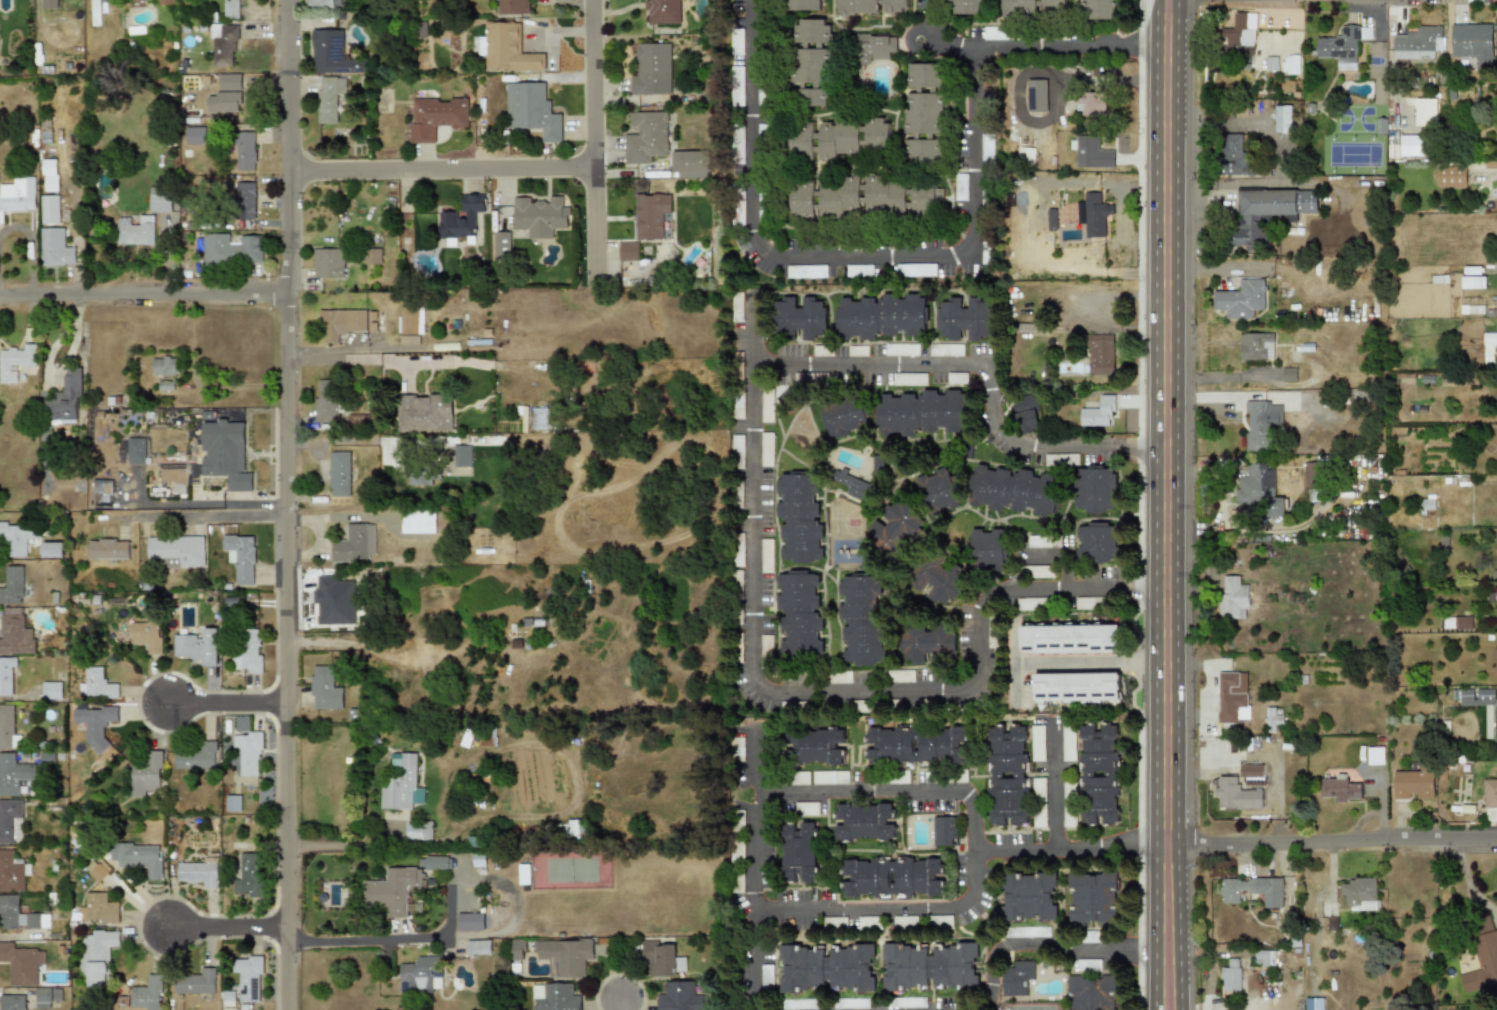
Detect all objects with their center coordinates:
building: (153, 1)
building: (322, 3)
building: (48, 4)
building: (1054, 4)
building: (803, 5)
building: (513, 7)
building: (871, 7)
building: (965, 7)
building: (1020, 8)
building: (230, 9)
building: (1098, 9)
building: (662, 11)
building: (95, 12)
building: (813, 32)
building: (1365, 32)
building: (996, 33)
building: (1240, 34)
building: (738, 42)
building: (1417, 43)
road: (1030, 44)
building: (1472, 44)
building: (222, 45)
building: (506, 48)
building: (874, 48)
building: (1339, 48)
building: (332, 53)
building: (1271, 63)
building: (1289, 64)
building: (810, 66)
building: (651, 69)
building: (924, 77)
road: (588, 86)
building: (738, 86)
building: (1038, 95)
building: (763, 96)
building: (809, 97)
building: (225, 98)
building: (328, 98)
building: (1092, 104)
building: (531, 109)
building: (435, 117)
building: (1282, 118)
building: (924, 129)
building: (194, 135)
building: (877, 135)
building: (646, 137)
building: (763, 138)
building: (824, 140)
building: (738, 143)
building: (1410, 145)
building: (986, 146)
building: (245, 151)
building: (1092, 154)
building: (1026, 156)
building: (1233, 156)
building: (690, 164)
building: (1482, 164)
building: (49, 175)
road: (435, 175)
building: (1450, 175)
building: (17, 196)
building: (886, 197)
building: (840, 198)
building: (160, 199)
building: (926, 199)
building: (245, 200)
building: (802, 200)
building: (1496, 203)
building: (738, 207)
building: (51, 210)
building: (1267, 214)
building: (650, 215)
building: (1094, 215)
building: (539, 216)
building: (461, 218)
building: (1051, 219)
building: (135, 231)
road: (589, 237)
building: (500, 244)
building: (55, 248)
building: (231, 249)
building: (628, 251)
building: (371, 256)
road: (836, 258)
building: (328, 262)
building: (862, 270)
building: (915, 270)
building: (806, 271)
building: (1472, 282)
building: (1241, 299)
road: (141, 303)
building: (1468, 310)
building: (882, 317)
building: (799, 319)
building: (962, 319)
building: (370, 320)
building: (341, 322)
building: (410, 325)
building: (1256, 346)
building: (1489, 346)
building: (901, 349)
building: (945, 350)
road: (330, 351)
building: (822, 351)
building: (857, 351)
building: (1099, 355)
building: (15, 360)
building: (164, 365)
road: (959, 367)
building: (1289, 374)
building: (810, 378)
building: (956, 378)
building: (909, 379)
building: (65, 399)
building: (326, 400)
building: (767, 404)
building: (424, 413)
building: (921, 413)
building: (1097, 413)
building: (1025, 414)
building: (539, 418)
building: (843, 418)
road: (351, 441)
road: (1138, 446)
building: (766, 449)
building: (137, 450)
building: (737, 452)
building: (224, 453)
building: (461, 455)
building: (1060, 460)
building: (338, 473)
building: (1309, 473)
building: (419, 474)
building: (852, 486)
building: (101, 490)
building: (1013, 490)
building: (1094, 490)
building: (1259, 490)
building: (938, 492)
road: (282, 505)
road: (1165, 505)
road: (209, 517)
building: (800, 518)
building: (895, 528)
building: (18, 536)
building: (1043, 541)
building: (1097, 542)
building: (354, 543)
building: (52, 549)
building: (108, 549)
building: (987, 550)
building: (176, 552)
building: (766, 555)
building: (240, 557)
building: (1037, 571)
building: (935, 581)
building: (13, 586)
building: (1232, 598)
building: (334, 600)
building: (1033, 604)
road: (1139, 606)
building: (800, 614)
building: (862, 620)
building: (1457, 622)
building: (14, 632)
building: (147, 635)
building: (1069, 639)
building: (925, 644)
building: (199, 646)
building: (766, 651)
building: (248, 652)
road: (1090, 663)
building: (6, 676)
building: (97, 685)
building: (324, 688)
building: (1075, 688)
building: (52, 690)
building: (1231, 696)
building: (1472, 696)
road: (226, 704)
road: (761, 710)
building: (94, 718)
building: (1271, 718)
building: (8, 726)
building: (1037, 743)
building: (1068, 743)
building: (916, 746)
building: (812, 747)
building: (249, 751)
building: (197, 756)
building: (1374, 756)
building: (1249, 770)
building: (1098, 773)
building: (10, 774)
building: (146, 774)
building: (1007, 776)
building: (830, 777)
building: (797, 778)
building: (401, 783)
building: (1412, 784)
building: (1038, 789)
building: (1340, 789)
building: (1066, 791)
building: (1489, 792)
building: (1236, 794)
road: (1048, 801)
building: (233, 803)
building: (806, 808)
building: (1039, 817)
building: (11, 821)
building: (864, 822)
building: (418, 830)
building: (943, 831)
road: (1330, 842)
road: (326, 845)
building: (798, 852)
road: (1063, 856)
building: (139, 857)
building: (437, 862)
building: (97, 870)
building: (13, 871)
building: (197, 874)
building: (523, 874)
building: (248, 877)
building: (892, 878)
road: (1468, 881)
building: (392, 890)
building: (1253, 890)
building: (1359, 893)
building: (1028, 897)
building: (1093, 899)
building: (98, 909)
building: (19, 916)
building: (467, 921)
building: (834, 922)
building: (904, 922)
building: (868, 923)
road: (227, 930)
road: (930, 930)
building: (1014, 932)
road: (392, 940)
building: (478, 947)
building: (518, 949)
road: (1054, 952)
road: (745, 953)
building: (97, 956)
building: (564, 956)
building: (1264, 957)
building: (661, 958)
building: (1483, 963)
building: (20, 964)
building: (955, 966)
building: (906, 967)
building: (851, 968)
building: (803, 969)
building: (421, 975)
building: (1230, 975)
building: (766, 976)
building: (249, 978)
building: (1016, 978)
building: (197, 982)
building: (150, 993)
building: (1091, 993)
building: (676, 996)
building: (230, 997)
building: (555, 997)
building: (47, 998)
building: (11, 1002)
building: (907, 1002)
building: (849, 1003)
building: (1313, 1004)

